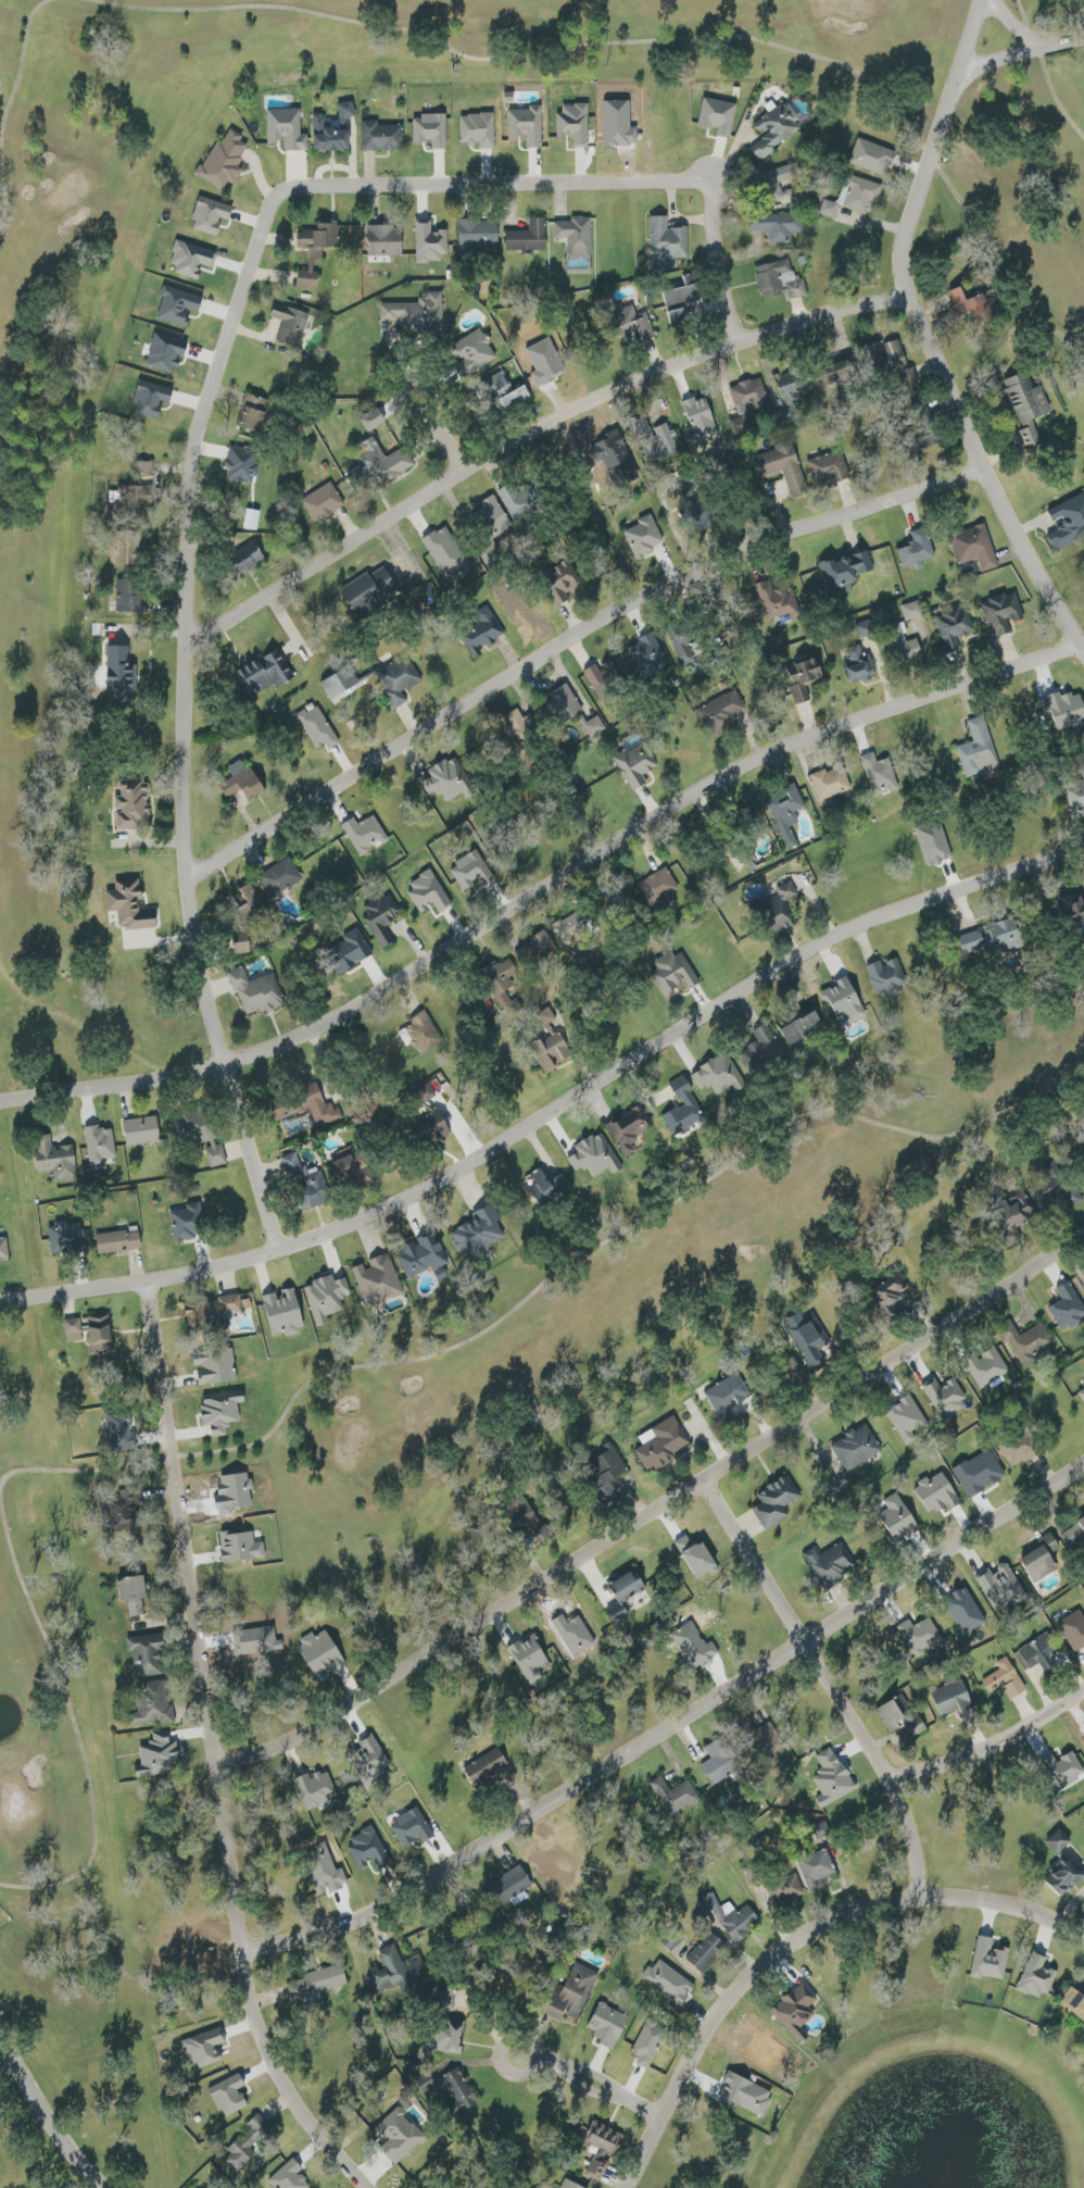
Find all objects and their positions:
road: (1021, 26)
road: (1024, 58)
building: (718, 116)
building: (573, 124)
building: (526, 126)
building: (286, 128)
building: (777, 129)
building: (431, 130)
building: (477, 130)
building: (330, 136)
building: (381, 137)
building: (872, 157)
building: (225, 162)
building: (784, 176)
building: (862, 195)
building: (831, 210)
building: (211, 216)
building: (778, 226)
building: (479, 237)
building: (576, 237)
building: (529, 238)
building: (667, 239)
building: (382, 241)
building: (429, 243)
building: (316, 251)
building: (191, 259)
building: (779, 280)
building: (681, 303)
building: (975, 303)
building: (179, 307)
building: (417, 313)
building: (290, 325)
building: (638, 325)
road: (927, 332)
building: (474, 352)
building: (895, 352)
building: (166, 353)
building: (837, 375)
building: (501, 386)
building: (792, 386)
building: (751, 397)
building: (153, 400)
building: (1028, 404)
building: (255, 414)
road: (434, 424)
road: (202, 425)
road: (531, 426)
building: (741, 426)
building: (383, 461)
building: (242, 465)
building: (143, 467)
building: (829, 468)
building: (785, 470)
building: (126, 499)
building: (694, 499)
building: (522, 502)
building: (323, 503)
building: (491, 516)
building: (1070, 525)
building: (644, 536)
building: (974, 548)
building: (918, 550)
building: (446, 553)
building: (254, 555)
building: (491, 555)
building: (130, 557)
building: (845, 571)
building: (370, 592)
building: (130, 596)
building: (911, 611)
building: (1003, 613)
building: (956, 630)
building: (484, 635)
road: (575, 639)
building: (684, 643)
building: (911, 650)
building: (650, 660)
building: (861, 665)
building: (122, 675)
building: (606, 679)
building: (400, 680)
building: (805, 686)
building: (335, 688)
building: (563, 705)
building: (724, 712)
building: (521, 725)
building: (593, 727)
building: (317, 729)
building: (978, 750)
park: (496, 762)
building: (636, 767)
building: (880, 775)
building: (451, 780)
building: (830, 783)
building: (244, 786)
building: (1080, 800)
building: (133, 805)
building: (786, 813)
building: (364, 835)
building: (935, 845)
building: (471, 872)
building: (280, 878)
building: (659, 886)
road: (544, 890)
building: (428, 895)
building: (248, 898)
building: (130, 907)
building: (779, 909)
building: (381, 918)
building: (575, 924)
building: (993, 939)
building: (537, 952)
building: (676, 976)
building: (887, 978)
building: (505, 990)
building: (257, 993)
building: (844, 1001)
building: (802, 1025)
building: (420, 1035)
building: (760, 1051)
building: (556, 1053)
building: (718, 1075)
building: (315, 1108)
building: (682, 1108)
road: (554, 1116)
building: (429, 1124)
building: (629, 1129)
building: (142, 1130)
building: (200, 1130)
building: (99, 1147)
building: (594, 1156)
building: (58, 1162)
building: (351, 1164)
building: (294, 1165)
building: (544, 1185)
building: (315, 1189)
building: (1049, 1193)
building: (1023, 1212)
building: (187, 1222)
building: (479, 1233)
building: (66, 1237)
building: (118, 1241)
building: (3, 1246)
building: (424, 1256)
building: (377, 1279)
building: (895, 1287)
building: (326, 1298)
building: (1068, 1305)
building: (214, 1311)
building: (285, 1312)
building: (92, 1333)
building: (1030, 1342)
building: (815, 1350)
building: (215, 1365)
building: (986, 1367)
building: (943, 1392)
building: (1081, 1393)
building: (728, 1396)
building: (222, 1411)
building: (907, 1418)
building: (664, 1445)
building: (856, 1448)
building: (1021, 1449)
building: (980, 1473)
building: (776, 1502)
road: (654, 1510)
building: (1074, 1534)
building: (241, 1547)
building: (1046, 1558)
building: (830, 1564)
building: (1000, 1586)
building: (628, 1590)
building: (135, 1595)
building: (967, 1611)
building: (1074, 1630)
building: (919, 1636)
building: (148, 1654)
building: (325, 1656)
building: (529, 1656)
building: (1005, 1679)
road: (834, 1685)
building: (953, 1700)
building: (153, 1705)
building: (902, 1718)
road: (672, 1727)
road: (995, 1746)
road: (216, 1754)
building: (159, 1756)
building: (369, 1758)
building: (721, 1762)
building: (1066, 1767)
building: (486, 1770)
building: (316, 1790)
building: (675, 1796)
building: (412, 1828)
building: (1059, 1841)
building: (370, 1849)
building: (817, 1870)
building: (755, 1872)
building: (514, 1887)
building: (785, 1890)
building: (742, 1923)
road: (798, 1945)
building: (707, 1953)
building: (990, 1960)
building: (394, 1972)
building: (1036, 1977)
building: (671, 1981)
building: (317, 1983)
building: (576, 1991)
building: (1074, 2002)
building: (799, 2012)
building: (608, 2026)
building: (445, 2041)
building: (648, 2046)
building: (204, 2049)
road: (593, 2081)
building: (229, 2096)
road: (47, 2116)
building: (398, 2136)
building: (250, 2142)
building: (601, 2153)
building: (289, 2177)
building: (571, 2185)

